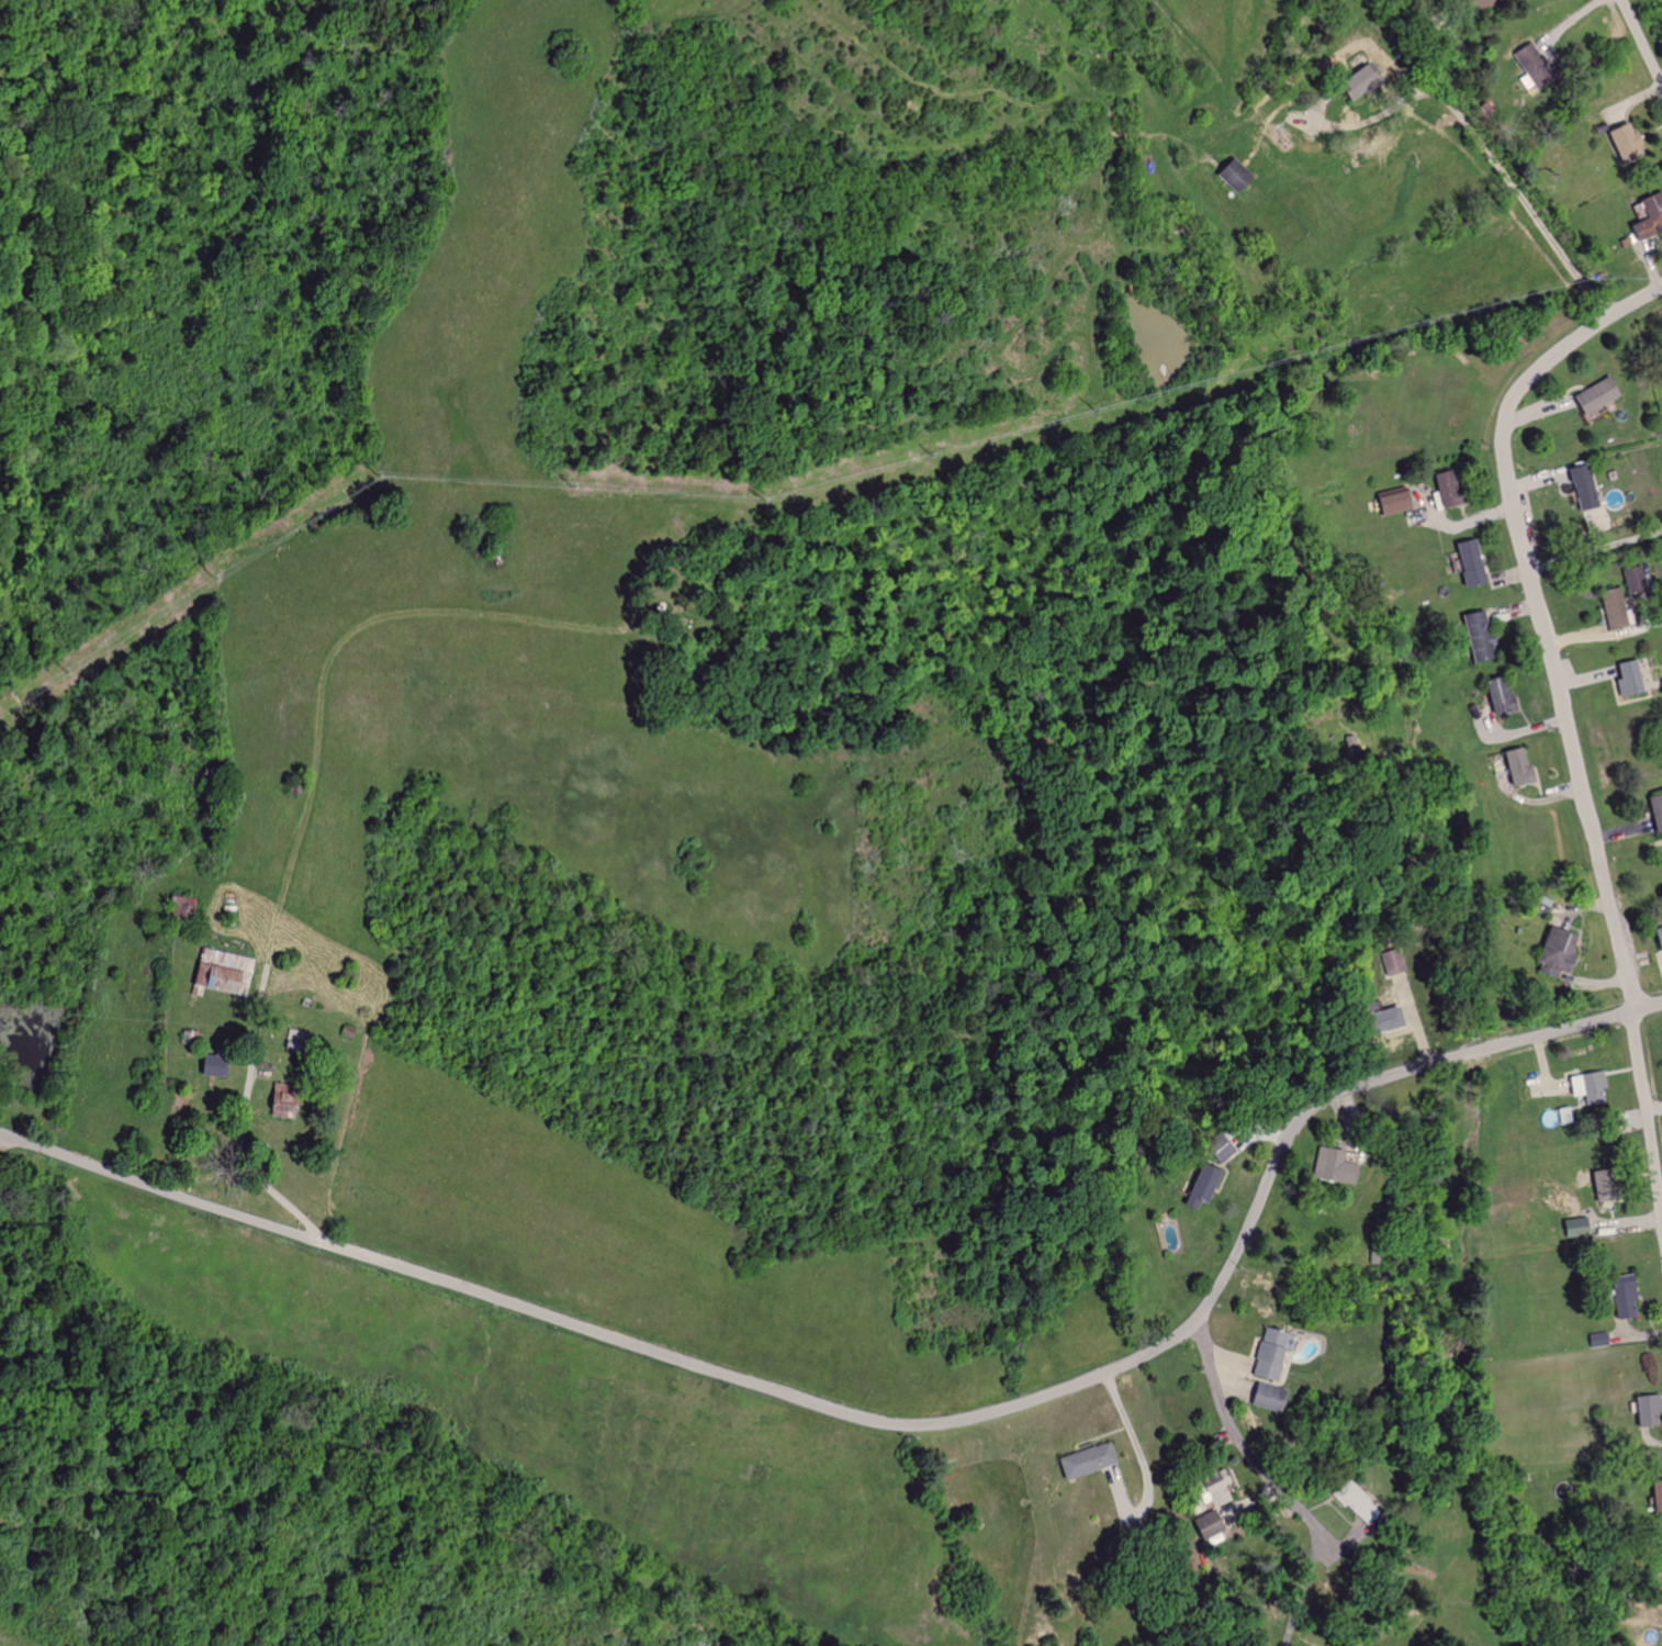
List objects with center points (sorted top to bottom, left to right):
building: (1470, 3)
road: (1641, 43)
building: (1524, 53)
building: (1354, 80)
building: (1621, 139)
road: (1487, 149)
building: (1229, 173)
building: (1647, 216)
building: (1592, 395)
building: (1581, 489)
building: (1390, 502)
road: (1593, 548)
building: (1466, 562)
building: (1632, 578)
building: (1612, 607)
road: (1537, 614)
building: (1473, 637)
building: (1626, 680)
building: (1496, 696)
building: (1514, 766)
building: (1654, 811)
building: (1657, 939)
building: (1552, 952)
building: (227, 971)
building: (1382, 1020)
building: (218, 1066)
building: (1590, 1088)
building: (289, 1100)
road: (1647, 1124)
building: (1338, 1165)
road: (255, 1169)
road: (205, 1174)
building: (1209, 1184)
building: (1621, 1297)
building: (1597, 1340)
building: (1276, 1354)
building: (1273, 1397)
building: (1644, 1410)
road: (891, 1425)
road: (1143, 1459)
building: (1091, 1460)
road: (1270, 1483)
building: (1655, 1497)
building: (1362, 1503)

